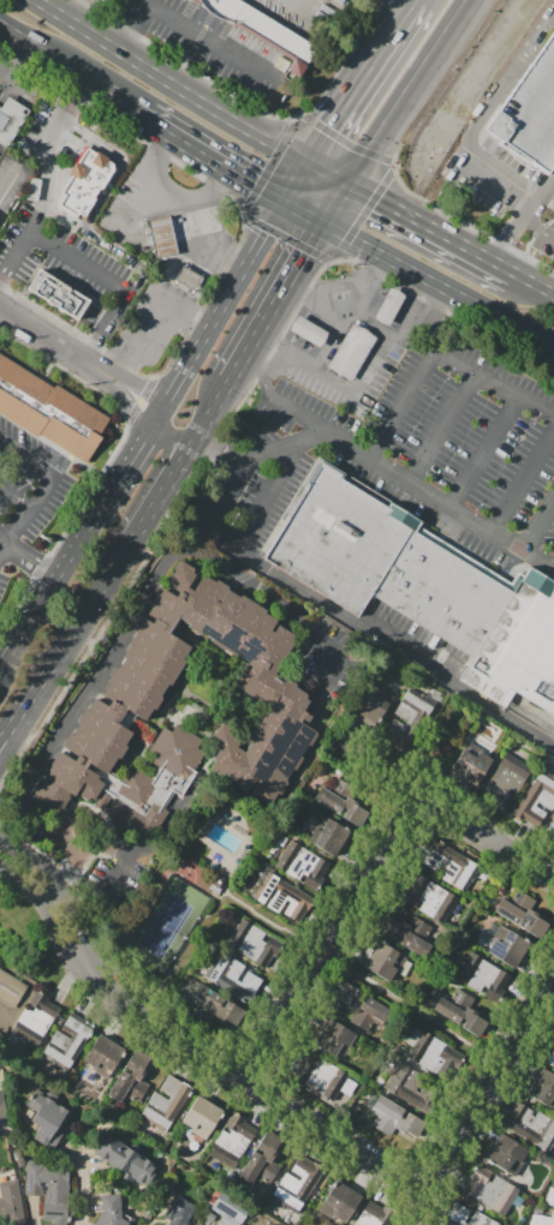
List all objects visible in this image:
road: (73, 10)
road: (461, 12)
road: (187, 26)
building: (269, 31)
road: (186, 65)
road: (75, 66)
road: (511, 70)
road: (20, 72)
road: (364, 80)
road: (173, 82)
road: (399, 102)
building: (529, 113)
parking lot: (529, 113)
road: (298, 118)
building: (11, 120)
road: (112, 120)
road: (94, 121)
traffic signals: (333, 129)
road: (85, 135)
road: (342, 141)
road: (219, 155)
road: (268, 166)
road: (494, 167)
road: (329, 171)
traffic signals: (257, 179)
road: (299, 179)
road: (50, 180)
building: (83, 180)
road: (213, 181)
road: (549, 184)
building: (31, 189)
road: (334, 198)
building: (553, 198)
traffic signals: (380, 199)
road: (516, 205)
road: (95, 207)
road: (304, 207)
road: (139, 208)
road: (240, 213)
road: (362, 215)
road: (455, 217)
road: (418, 221)
road: (516, 223)
road: (537, 227)
road: (537, 229)
building: (159, 237)
road: (286, 238)
road: (525, 245)
road: (204, 247)
traffic signals: (302, 252)
road: (225, 256)
road: (338, 259)
road: (428, 275)
building: (186, 277)
gas station: (186, 277)
road: (523, 279)
road: (112, 283)
building: (61, 295)
road: (274, 297)
road: (225, 298)
road: (336, 306)
road: (347, 310)
building: (387, 310)
road: (199, 311)
road: (189, 315)
road: (459, 317)
road: (76, 333)
building: (308, 333)
road: (430, 333)
road: (544, 337)
road: (60, 342)
building: (351, 353)
road: (439, 355)
parking lot: (304, 376)
road: (269, 382)
road: (361, 384)
road: (147, 386)
road: (143, 388)
road: (139, 400)
road: (210, 405)
road: (132, 408)
building: (48, 411)
road: (299, 413)
road: (131, 414)
road: (443, 430)
road: (167, 437)
road: (139, 446)
road: (166, 446)
parking lot: (397, 448)
road: (483, 453)
road: (365, 454)
road: (26, 455)
road: (177, 462)
road: (523, 479)
parking lot: (30, 485)
road: (267, 494)
road: (16, 498)
road: (25, 516)
road: (144, 516)
road: (165, 516)
road: (84, 532)
road: (531, 542)
road: (26, 557)
building: (386, 561)
parking lot: (5, 580)
road: (44, 593)
road: (138, 599)
road: (345, 615)
road: (17, 638)
road: (64, 641)
building: (519, 646)
building: (442, 665)
building: (269, 689)
building: (371, 703)
building: (410, 722)
road: (7, 742)
building: (470, 766)
road: (376, 771)
building: (506, 779)
building: (537, 801)
building: (340, 806)
road: (99, 823)
building: (552, 827)
road: (1, 832)
building: (328, 837)
road: (483, 837)
building: (280, 841)
road: (88, 851)
building: (303, 865)
building: (451, 865)
road: (115, 873)
building: (214, 889)
road: (60, 895)
building: (285, 898)
building: (430, 898)
building: (520, 912)
road: (53, 916)
park: (168, 927)
building: (409, 933)
road: (324, 937)
building: (256, 945)
building: (508, 945)
building: (383, 961)
building: (232, 974)
building: (482, 976)
building: (11, 990)
building: (216, 1004)
building: (362, 1006)
building: (459, 1010)
building: (35, 1021)
building: (333, 1036)
building: (68, 1039)
building: (433, 1052)
building: (102, 1056)
building: (552, 1058)
building: (321, 1077)
building: (130, 1078)
building: (412, 1087)
building: (542, 1088)
road: (490, 1090)
road: (256, 1092)
building: (165, 1104)
building: (1, 1109)
building: (202, 1116)
building: (47, 1117)
building: (395, 1118)
building: (530, 1124)
building: (233, 1140)
building: (506, 1154)
building: (126, 1159)
building: (263, 1159)
building: (297, 1183)
road: (83, 1185)
building: (489, 1190)
building: (49, 1191)
building: (550, 1196)
building: (339, 1201)
building: (10, 1203)
building: (230, 1209)
building: (111, 1211)
road: (419, 1211)
building: (179, 1212)
building: (455, 1215)
building: (367, 1219)
building: (543, 1219)
building: (208, 1220)

